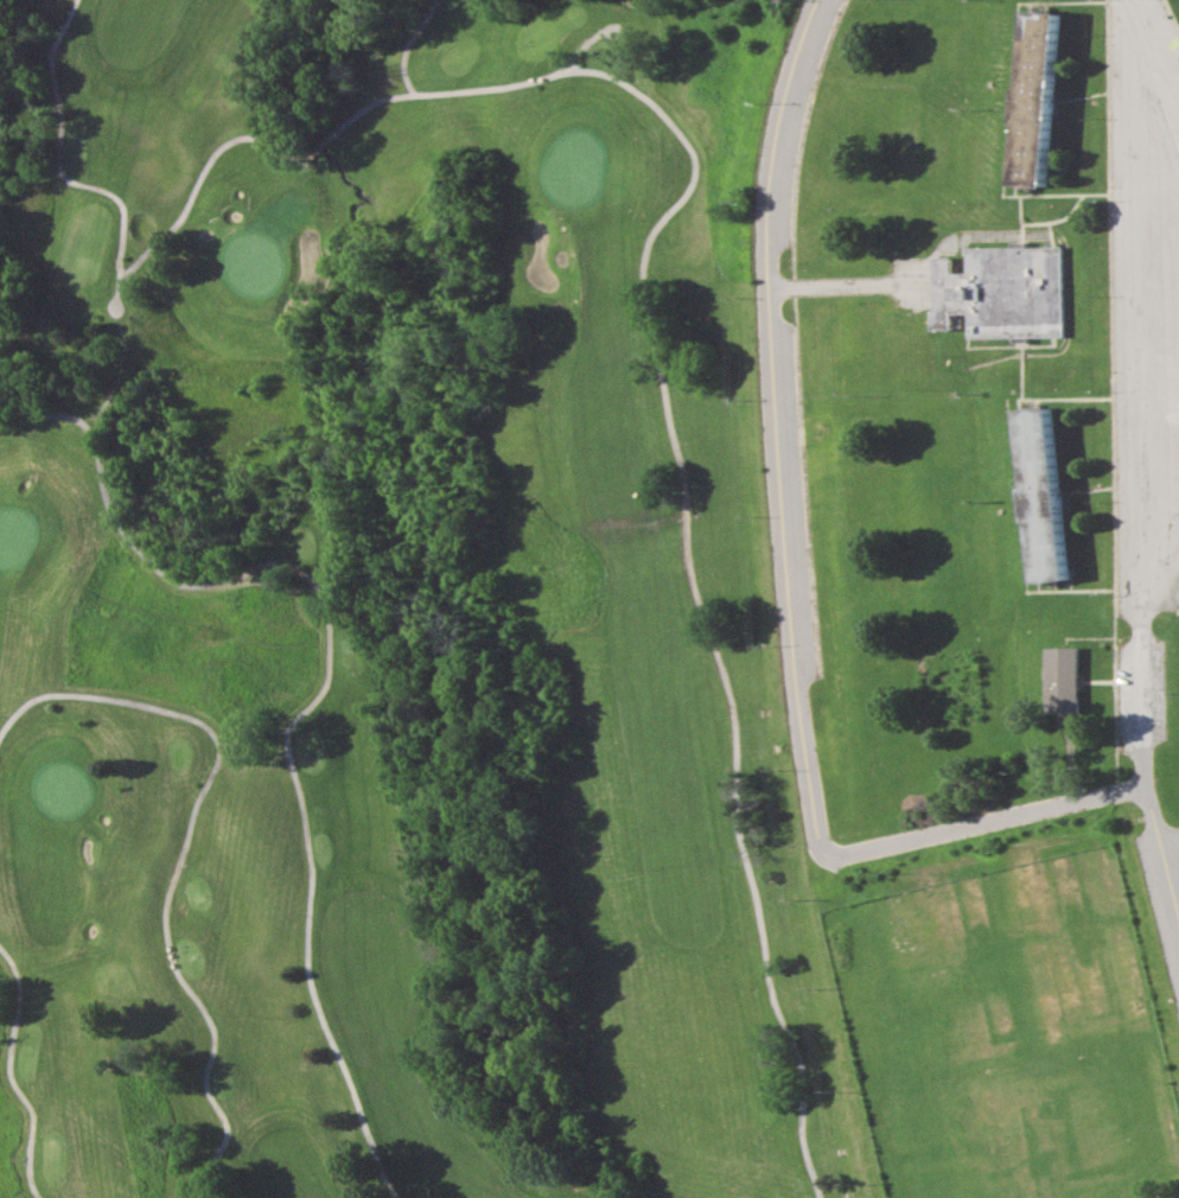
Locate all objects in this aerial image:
road: (1027, 6)
road: (1170, 19)
road: (1079, 95)
building: (1034, 103)
road: (1006, 108)
road: (798, 140)
road: (1156, 177)
road: (1017, 218)
road: (1052, 219)
road: (917, 282)
building: (1000, 293)
road: (1002, 344)
road: (1035, 344)
parking lot: (1143, 350)
road: (1108, 390)
road: (771, 433)
road: (1137, 470)
road: (799, 483)
road: (1017, 484)
road: (1012, 485)
building: (1040, 489)
road: (1084, 489)
road: (1175, 607)
road: (1083, 637)
park: (457, 661)
building: (1064, 677)
road: (1098, 680)
building: (973, 780)
road: (989, 821)

